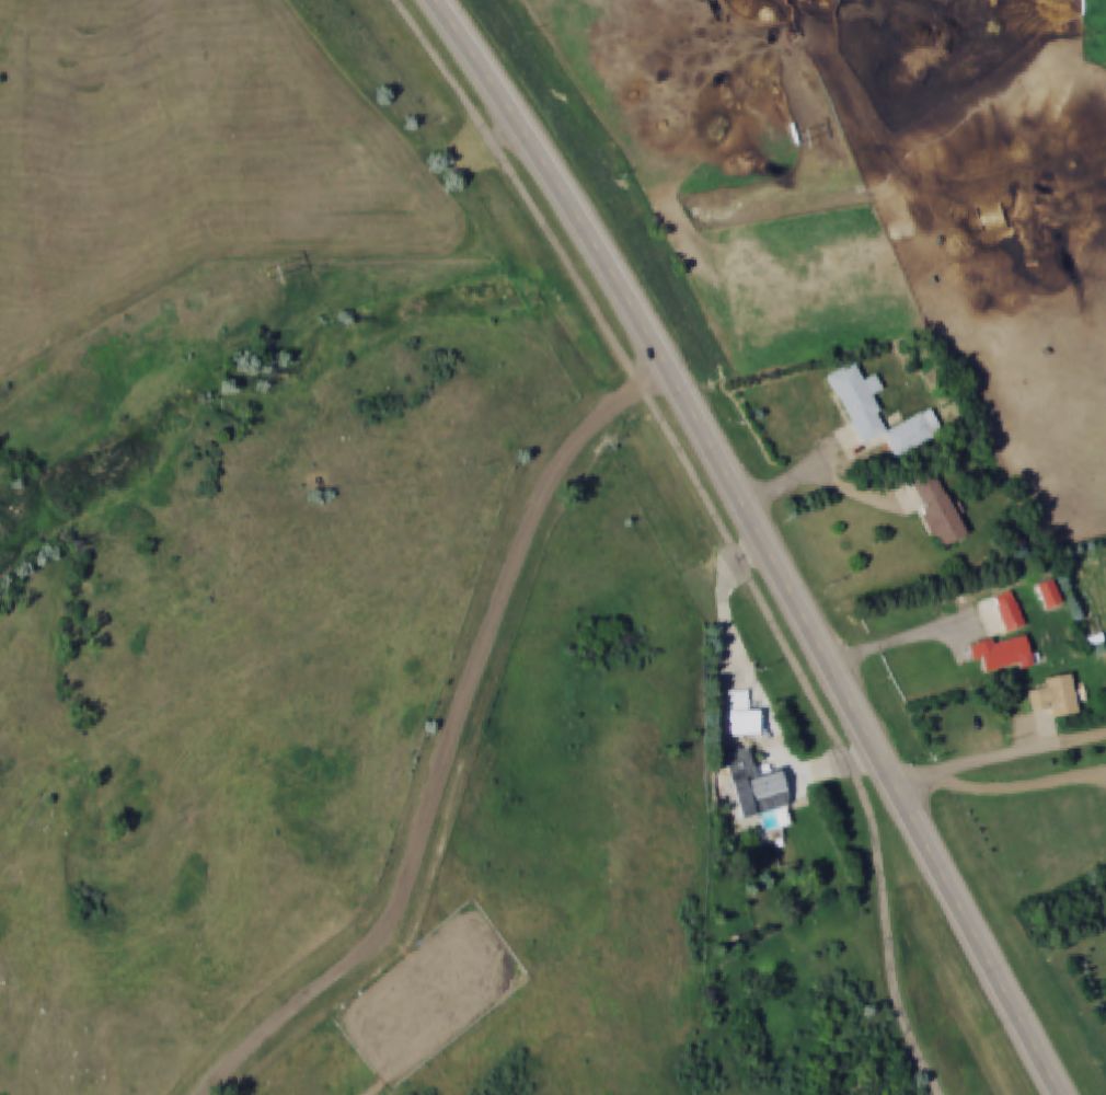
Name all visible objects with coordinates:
power tower: (806, 137)
power tower: (276, 274)
road: (672, 387)
building: (878, 413)
building: (937, 509)
road: (721, 526)
building: (1009, 611)
road: (907, 641)
building: (1004, 653)
building: (1056, 696)
building: (742, 715)
road: (443, 740)
road: (998, 760)
building: (754, 785)
road: (973, 942)

